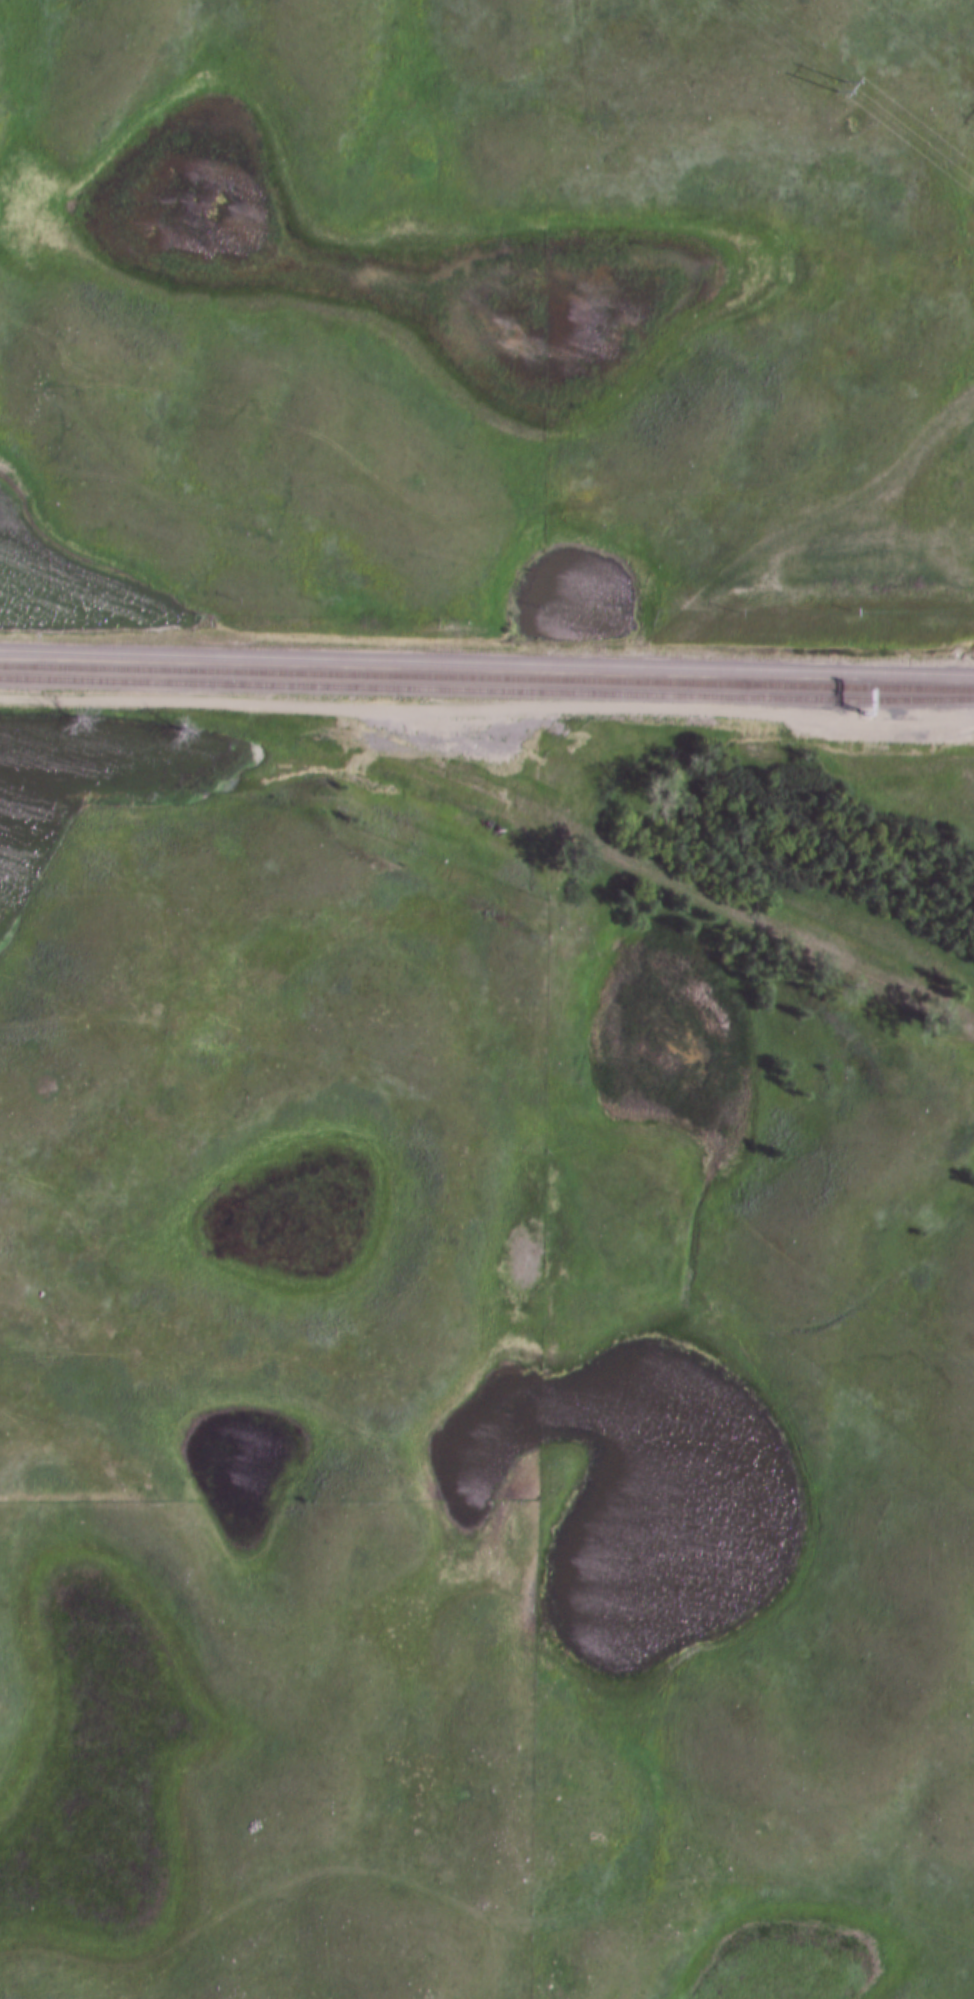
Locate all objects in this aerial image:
railway: (486, 666)
railway: (487, 679)
railway: (486, 691)
road: (488, 709)
road: (644, 868)

